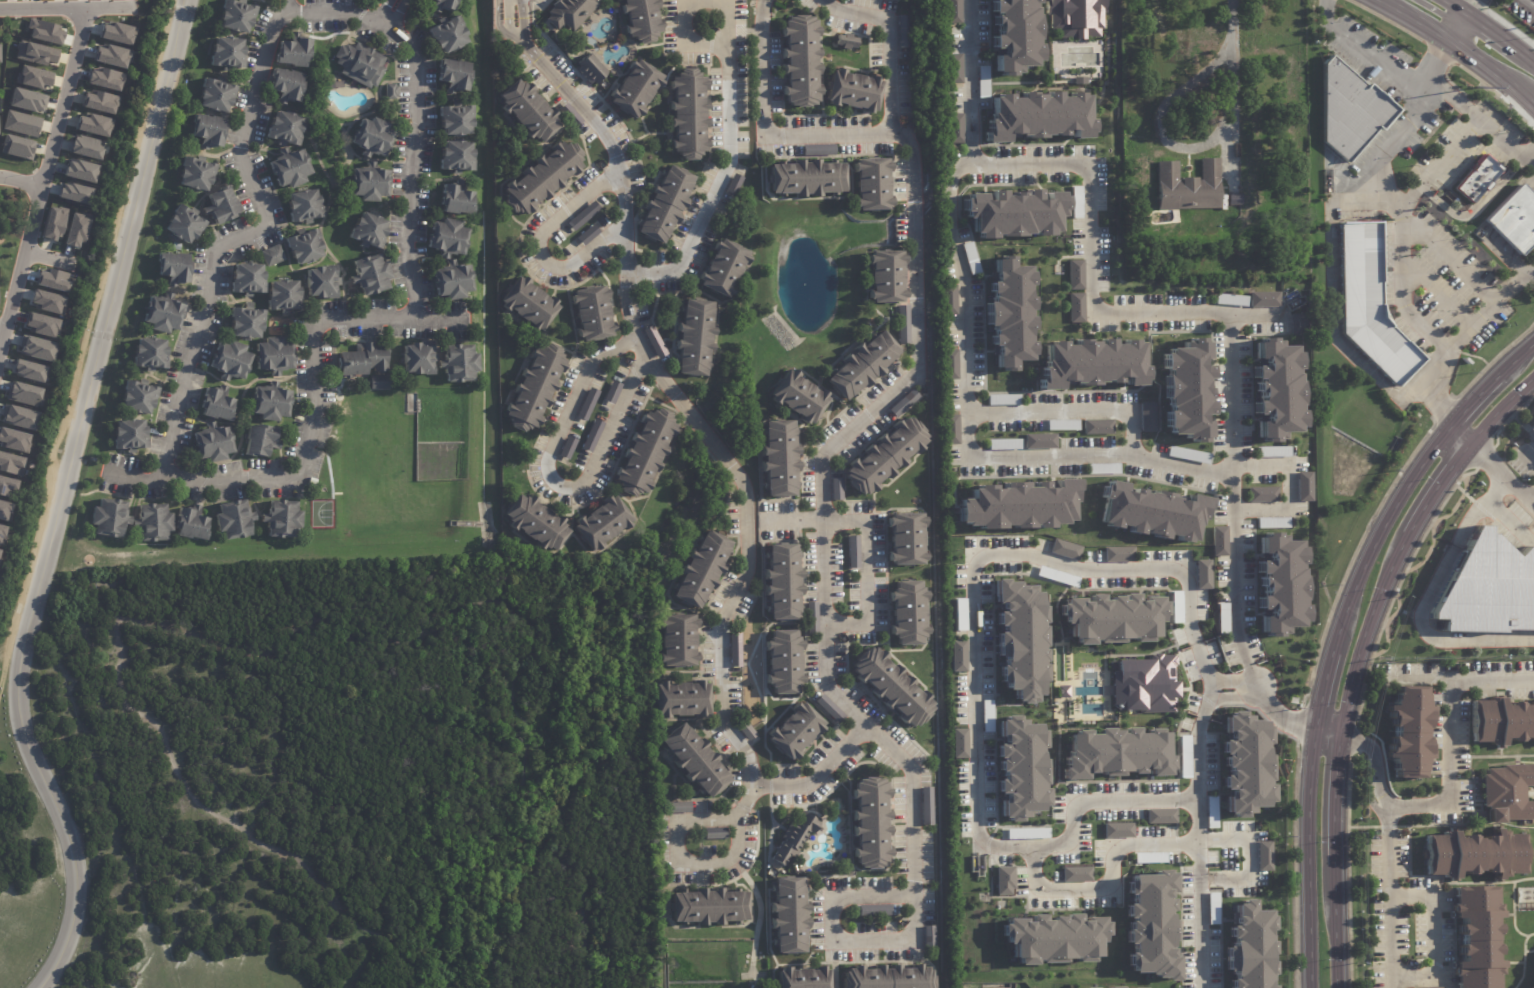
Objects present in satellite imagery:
road: (684, 3)
building: (442, 5)
road: (1527, 5)
road: (1449, 7)
road: (1466, 7)
road: (65, 8)
building: (952, 11)
road: (1438, 11)
building: (568, 12)
building: (236, 16)
building: (1074, 17)
building: (642, 19)
road: (1413, 21)
road: (1454, 29)
building: (44, 31)
building: (902, 31)
building: (117, 32)
building: (1010, 33)
building: (447, 35)
road: (1495, 40)
building: (847, 41)
road: (887, 42)
building: (227, 52)
building: (293, 52)
building: (35, 53)
building: (111, 56)
building: (800, 60)
building: (360, 65)
road: (1531, 67)
road: (1230, 68)
building: (590, 69)
building: (954, 69)
building: (453, 75)
road: (1490, 75)
building: (33, 77)
building: (105, 79)
road: (970, 81)
road: (1426, 81)
building: (287, 85)
power tower: (1477, 88)
building: (634, 89)
building: (390, 91)
building: (852, 91)
building: (215, 95)
building: (26, 100)
building: (99, 101)
building: (527, 110)
building: (1350, 112)
road: (1413, 112)
building: (569, 114)
building: (689, 115)
building: (1036, 115)
building: (454, 119)
building: (21, 123)
building: (93, 124)
building: (285, 127)
building: (954, 128)
building: (208, 131)
building: (372, 137)
building: (16, 146)
building: (85, 147)
building: (816, 150)
building: (455, 155)
road: (1528, 158)
road: (1036, 162)
building: (289, 167)
building: (79, 170)
building: (195, 173)
road: (409, 176)
building: (541, 178)
building: (805, 178)
building: (1477, 179)
road: (45, 181)
building: (369, 182)
road: (21, 183)
road: (715, 183)
building: (871, 184)
building: (732, 185)
building: (1188, 186)
building: (74, 193)
road: (624, 193)
building: (456, 198)
building: (1076, 202)
building: (665, 204)
building: (220, 205)
building: (303, 205)
park: (10, 208)
road: (1473, 208)
building: (1014, 210)
building: (583, 218)
building: (1515, 219)
building: (53, 222)
building: (184, 224)
building: (75, 230)
building: (369, 231)
road: (1400, 231)
building: (587, 234)
road: (1428, 236)
building: (447, 237)
road: (539, 245)
building: (305, 246)
building: (175, 247)
building: (272, 255)
road: (51, 259)
building: (174, 268)
building: (723, 269)
building: (370, 274)
building: (1075, 274)
road: (1530, 275)
building: (886, 276)
building: (247, 278)
building: (52, 279)
building: (451, 281)
building: (320, 282)
road: (1435, 292)
building: (283, 295)
building: (948, 299)
building: (1230, 299)
building: (1264, 299)
road: (1330, 299)
building: (47, 301)
building: (529, 303)
building: (1369, 303)
building: (1076, 307)
road: (1486, 308)
building: (162, 313)
building: (592, 313)
building: (1007, 316)
building: (245, 323)
building: (41, 324)
building: (902, 324)
building: (1298, 324)
road: (3, 333)
road: (82, 337)
building: (694, 337)
building: (653, 342)
building: (36, 348)
building: (149, 354)
building: (274, 355)
road: (190, 356)
building: (361, 358)
building: (418, 358)
building: (229, 361)
building: (1091, 361)
road: (1514, 362)
building: (458, 363)
building: (949, 364)
building: (862, 365)
road: (1230, 367)
building: (28, 370)
road: (1424, 375)
building: (378, 381)
building: (535, 388)
building: (1182, 390)
building: (1268, 391)
building: (611, 392)
building: (22, 393)
building: (137, 397)
building: (799, 397)
road: (881, 401)
building: (270, 402)
building: (903, 402)
road: (1435, 402)
building: (217, 403)
building: (586, 403)
road: (1472, 403)
road: (1129, 411)
road: (1499, 415)
building: (18, 417)
building: (1147, 417)
building: (1097, 426)
building: (951, 429)
building: (1531, 430)
building: (128, 435)
building: (591, 435)
road: (706, 436)
road: (1457, 437)
building: (13, 440)
building: (261, 441)
building: (1040, 441)
building: (212, 442)
building: (1003, 444)
building: (566, 448)
building: (1274, 450)
building: (644, 452)
building: (1194, 455)
building: (883, 457)
building: (779, 459)
road: (1528, 460)
building: (10, 464)
road: (1500, 476)
road: (551, 479)
road: (1289, 485)
building: (1304, 486)
building: (7, 487)
road: (1492, 487)
building: (835, 489)
road: (1435, 492)
building: (1262, 494)
road: (61, 498)
road: (1530, 499)
building: (1012, 505)
building: (1144, 509)
building: (3, 511)
building: (281, 518)
building: (108, 519)
building: (233, 519)
building: (532, 520)
building: (191, 522)
building: (152, 523)
building: (602, 523)
road: (1509, 523)
building: (1, 531)
road: (1375, 531)
building: (905, 538)
building: (1218, 541)
building: (1065, 549)
road: (864, 551)
building: (852, 553)
building: (1118, 554)
building: (701, 570)
building: (1203, 574)
building: (1057, 576)
building: (781, 582)
building: (1281, 583)
building: (1487, 588)
road: (1419, 611)
building: (907, 613)
building: (1108, 613)
road: (496, 615)
building: (810, 619)
building: (1012, 629)
road: (1366, 633)
building: (678, 641)
road: (721, 641)
building: (734, 649)
building: (957, 655)
road: (972, 659)
building: (783, 663)
building: (1143, 685)
building: (891, 686)
road: (1319, 692)
road: (1264, 698)
building: (682, 700)
building: (827, 709)
building: (1501, 722)
building: (744, 730)
building: (795, 731)
building: (1408, 732)
road: (1324, 734)
road: (1452, 734)
park: (314, 737)
building: (959, 743)
building: (1112, 754)
road: (1375, 756)
building: (694, 760)
road: (1198, 761)
building: (1244, 762)
building: (1016, 764)
road: (813, 775)
building: (1507, 794)
road: (203, 803)
building: (926, 807)
building: (678, 808)
road: (1336, 814)
building: (1160, 815)
building: (1479, 818)
building: (870, 824)
building: (1118, 830)
building: (714, 835)
road: (1244, 837)
building: (793, 840)
building: (1474, 855)
building: (1264, 856)
road: (677, 858)
road: (1303, 859)
building: (1076, 874)
building: (1004, 880)
road: (1109, 882)
road: (1388, 894)
building: (709, 907)
building: (873, 911)
building: (788, 917)
building: (1151, 918)
road: (1201, 932)
road: (1434, 936)
building: (928, 937)
building: (1476, 937)
road: (832, 938)
building: (1051, 938)
road: (1334, 940)
building: (1247, 951)
park: (217, 975)
building: (887, 978)
building: (803, 979)
building: (1532, 986)
building: (1110, 987)
building: (1426, 987)

